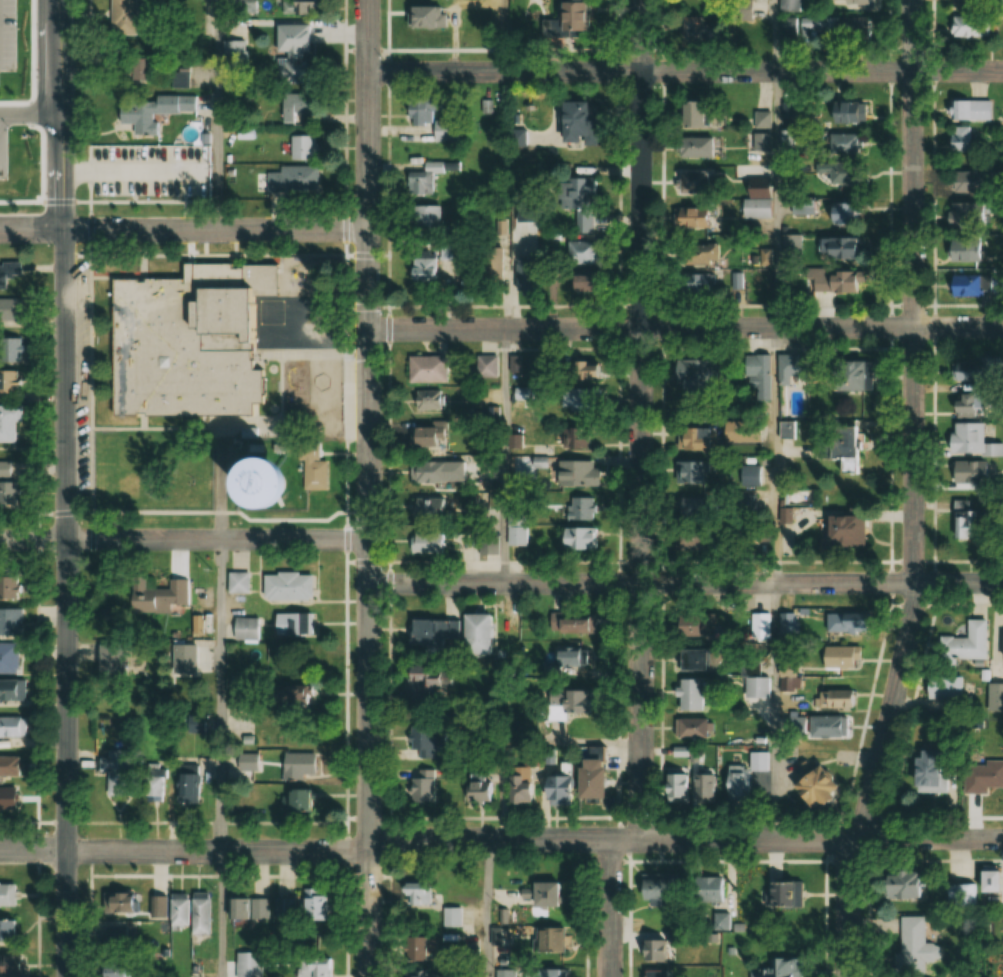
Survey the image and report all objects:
building: (852, 2)
building: (963, 2)
building: (788, 5)
building: (295, 7)
building: (566, 15)
building: (421, 16)
road: (88, 17)
building: (129, 17)
building: (786, 26)
building: (818, 26)
building: (966, 26)
building: (695, 28)
road: (775, 35)
road: (502, 36)
building: (292, 50)
building: (146, 69)
road: (684, 71)
building: (968, 109)
building: (156, 110)
building: (842, 112)
building: (691, 114)
road: (216, 115)
building: (426, 116)
building: (565, 121)
building: (761, 129)
building: (512, 136)
building: (958, 138)
building: (842, 143)
building: (298, 146)
building: (691, 147)
building: (9, 171)
building: (833, 173)
building: (152, 174)
building: (290, 178)
building: (419, 178)
building: (965, 180)
building: (691, 182)
road: (775, 199)
building: (574, 200)
building: (753, 207)
building: (838, 213)
building: (962, 213)
building: (422, 216)
building: (687, 218)
road: (183, 230)
building: (523, 234)
building: (834, 247)
building: (962, 249)
building: (579, 252)
building: (698, 254)
building: (488, 263)
building: (420, 268)
building: (524, 274)
building: (735, 280)
building: (839, 281)
building: (577, 282)
building: (696, 284)
building: (962, 284)
building: (16, 285)
road: (685, 327)
building: (184, 340)
building: (484, 365)
building: (786, 366)
building: (425, 368)
building: (694, 368)
building: (577, 370)
building: (986, 371)
building: (757, 375)
building: (845, 376)
parking lot: (74, 377)
building: (10, 382)
road: (641, 420)
building: (10, 422)
building: (748, 432)
building: (420, 436)
building: (577, 437)
building: (687, 438)
building: (968, 440)
building: (840, 447)
road: (775, 454)
road: (503, 455)
building: (311, 471)
building: (435, 471)
building: (687, 471)
building: (967, 471)
building: (574, 473)
building: (751, 474)
road: (62, 488)
road: (368, 488)
road: (913, 492)
building: (10, 494)
water tower: (261, 505)
building: (580, 508)
building: (790, 512)
building: (963, 520)
building: (840, 530)
building: (515, 535)
building: (575, 538)
road: (184, 540)
building: (689, 542)
building: (424, 543)
building: (485, 544)
building: (238, 582)
road: (685, 582)
building: (284, 586)
building: (11, 589)
building: (173, 596)
building: (13, 622)
building: (568, 623)
building: (836, 623)
building: (292, 624)
building: (786, 624)
building: (758, 625)
building: (683, 626)
building: (243, 628)
building: (448, 633)
building: (962, 644)
building: (1000, 650)
building: (10, 658)
building: (115, 660)
building: (687, 660)
building: (785, 679)
building: (421, 687)
building: (754, 687)
building: (941, 687)
building: (14, 690)
building: (686, 694)
road: (219, 696)
building: (994, 696)
building: (291, 697)
building: (563, 703)
road: (774, 711)
building: (691, 727)
building: (15, 732)
building: (420, 738)
building: (679, 752)
building: (254, 763)
building: (294, 765)
building: (12, 766)
building: (924, 771)
building: (119, 772)
building: (980, 775)
building: (585, 778)
building: (519, 779)
building: (735, 783)
building: (422, 785)
building: (701, 787)
building: (808, 787)
building: (192, 788)
building: (676, 788)
building: (556, 789)
building: (476, 790)
building: (11, 799)
building: (293, 800)
road: (685, 840)
road: (184, 851)
building: (896, 885)
building: (706, 889)
building: (652, 891)
building: (969, 891)
building: (413, 893)
building: (9, 895)
building: (538, 895)
building: (781, 895)
building: (126, 904)
building: (314, 905)
building: (249, 908)
building: (283, 908)
road: (612, 908)
building: (192, 913)
road: (219, 914)
building: (449, 917)
building: (719, 922)
building: (11, 931)
building: (121, 935)
building: (907, 940)
building: (548, 941)
building: (419, 948)
building: (653, 951)
building: (13, 964)
building: (247, 964)
building: (314, 967)
building: (782, 967)
building: (543, 972)
building: (655, 973)
building: (414, 974)

